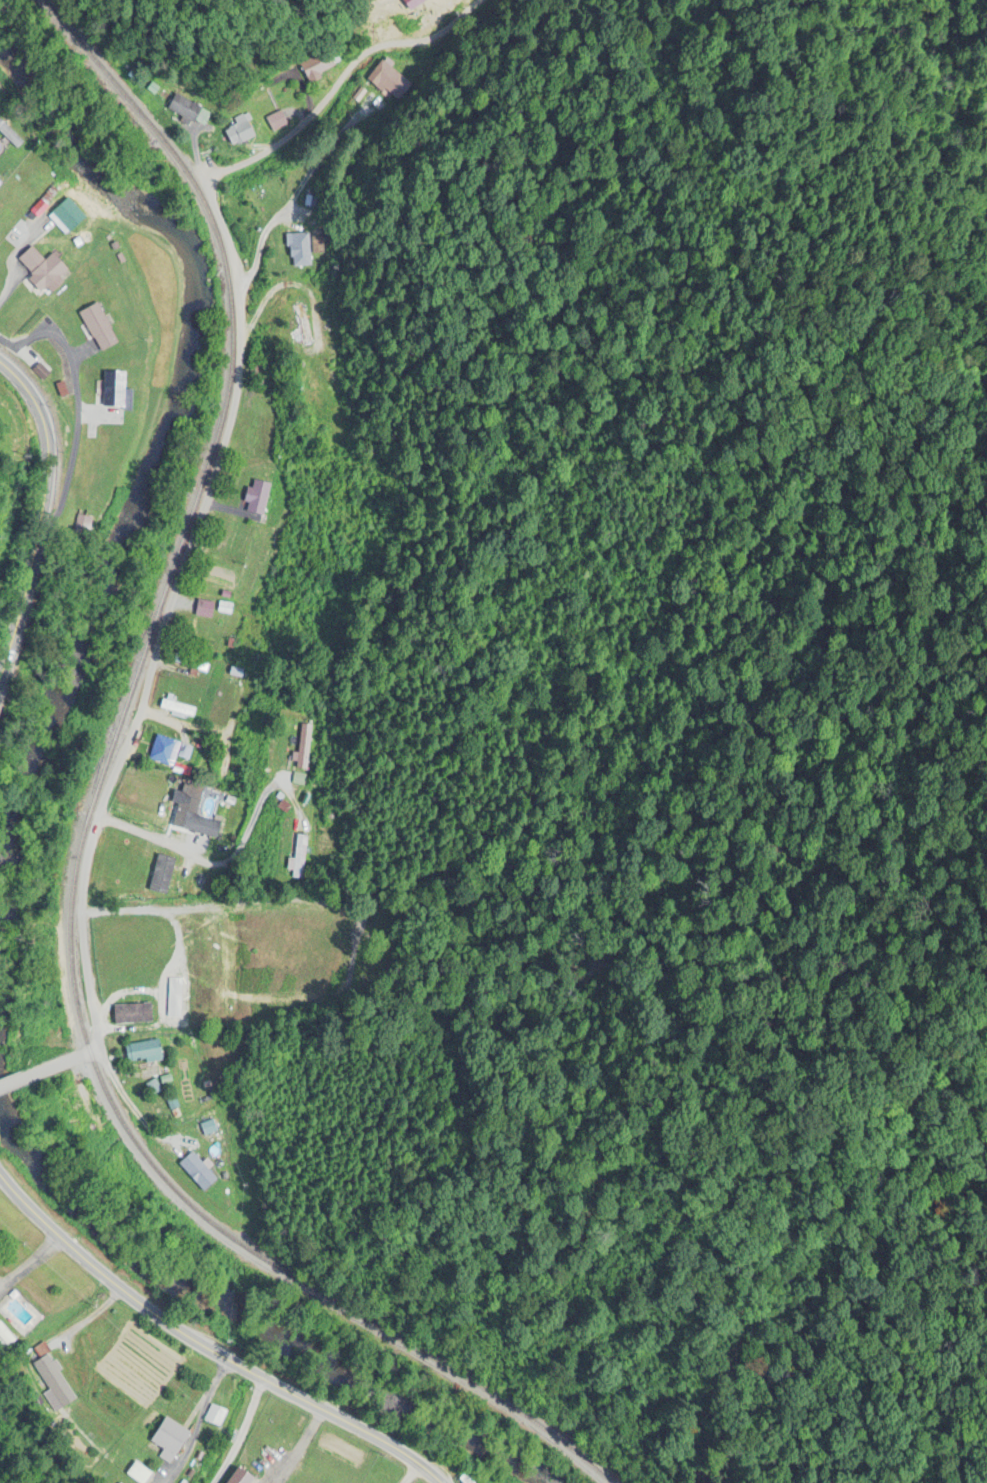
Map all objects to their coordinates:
building: (313, 70)
building: (185, 109)
building: (276, 122)
building: (239, 132)
building: (69, 215)
road: (259, 239)
building: (298, 251)
building: (44, 271)
road: (290, 285)
building: (98, 328)
building: (332, 378)
building: (114, 390)
road: (72, 403)
building: (337, 434)
river: (161, 466)
road: (213, 475)
building: (257, 498)
road: (41, 515)
building: (177, 708)
building: (303, 747)
building: (162, 751)
building: (190, 811)
railway: (85, 832)
building: (296, 860)
road: (226, 865)
building: (166, 875)
building: (124, 896)
building: (174, 998)
building: (143, 1052)
road: (33, 1069)
road: (123, 1097)
building: (208, 1128)
river: (257, 1301)
road: (205, 1348)
building: (53, 1378)
building: (214, 1415)
road: (236, 1432)
building: (170, 1440)
road: (414, 1474)
building: (240, 1477)

